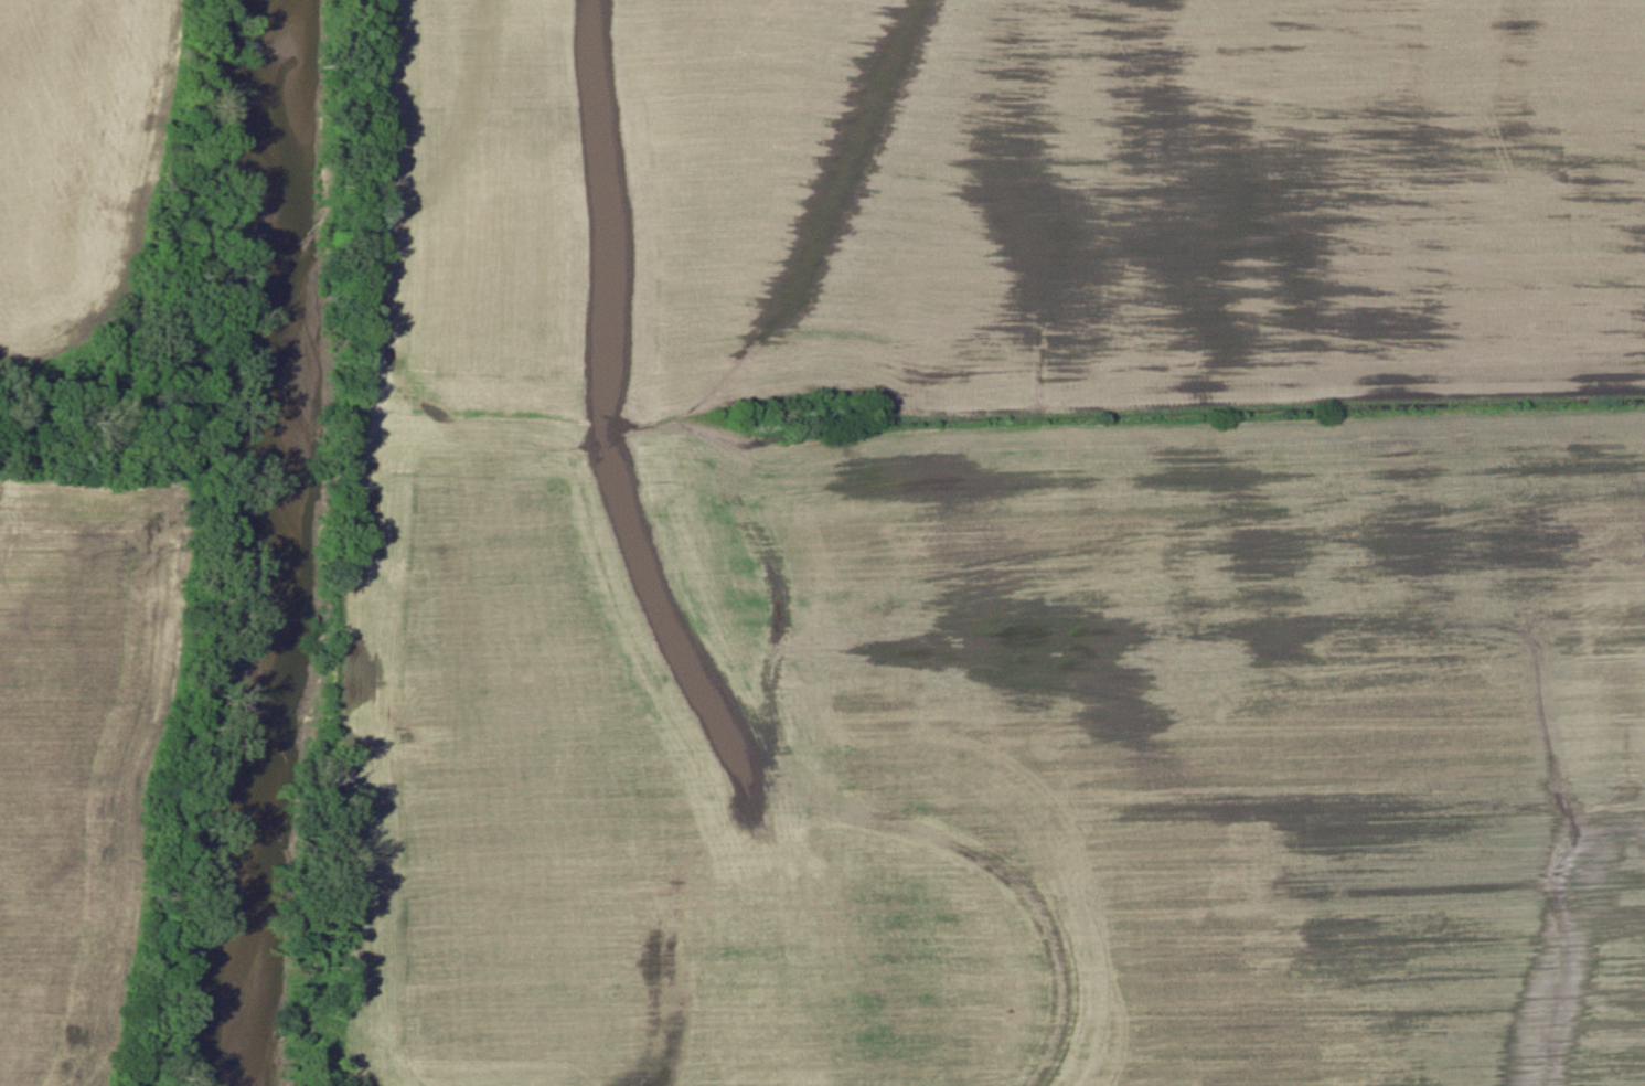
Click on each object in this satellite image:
crop: (1007, 205)
crop: (81, 757)

